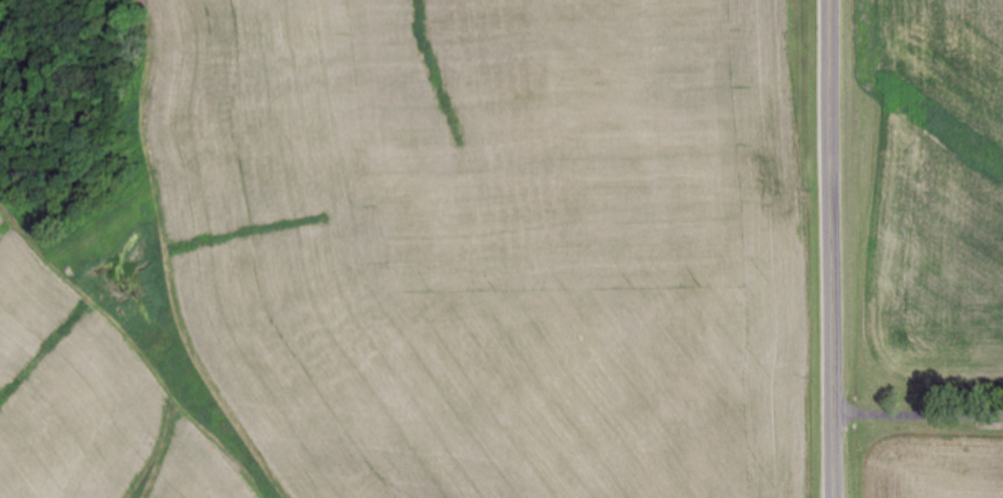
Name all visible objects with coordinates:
road: (836, 249)
road: (919, 412)

